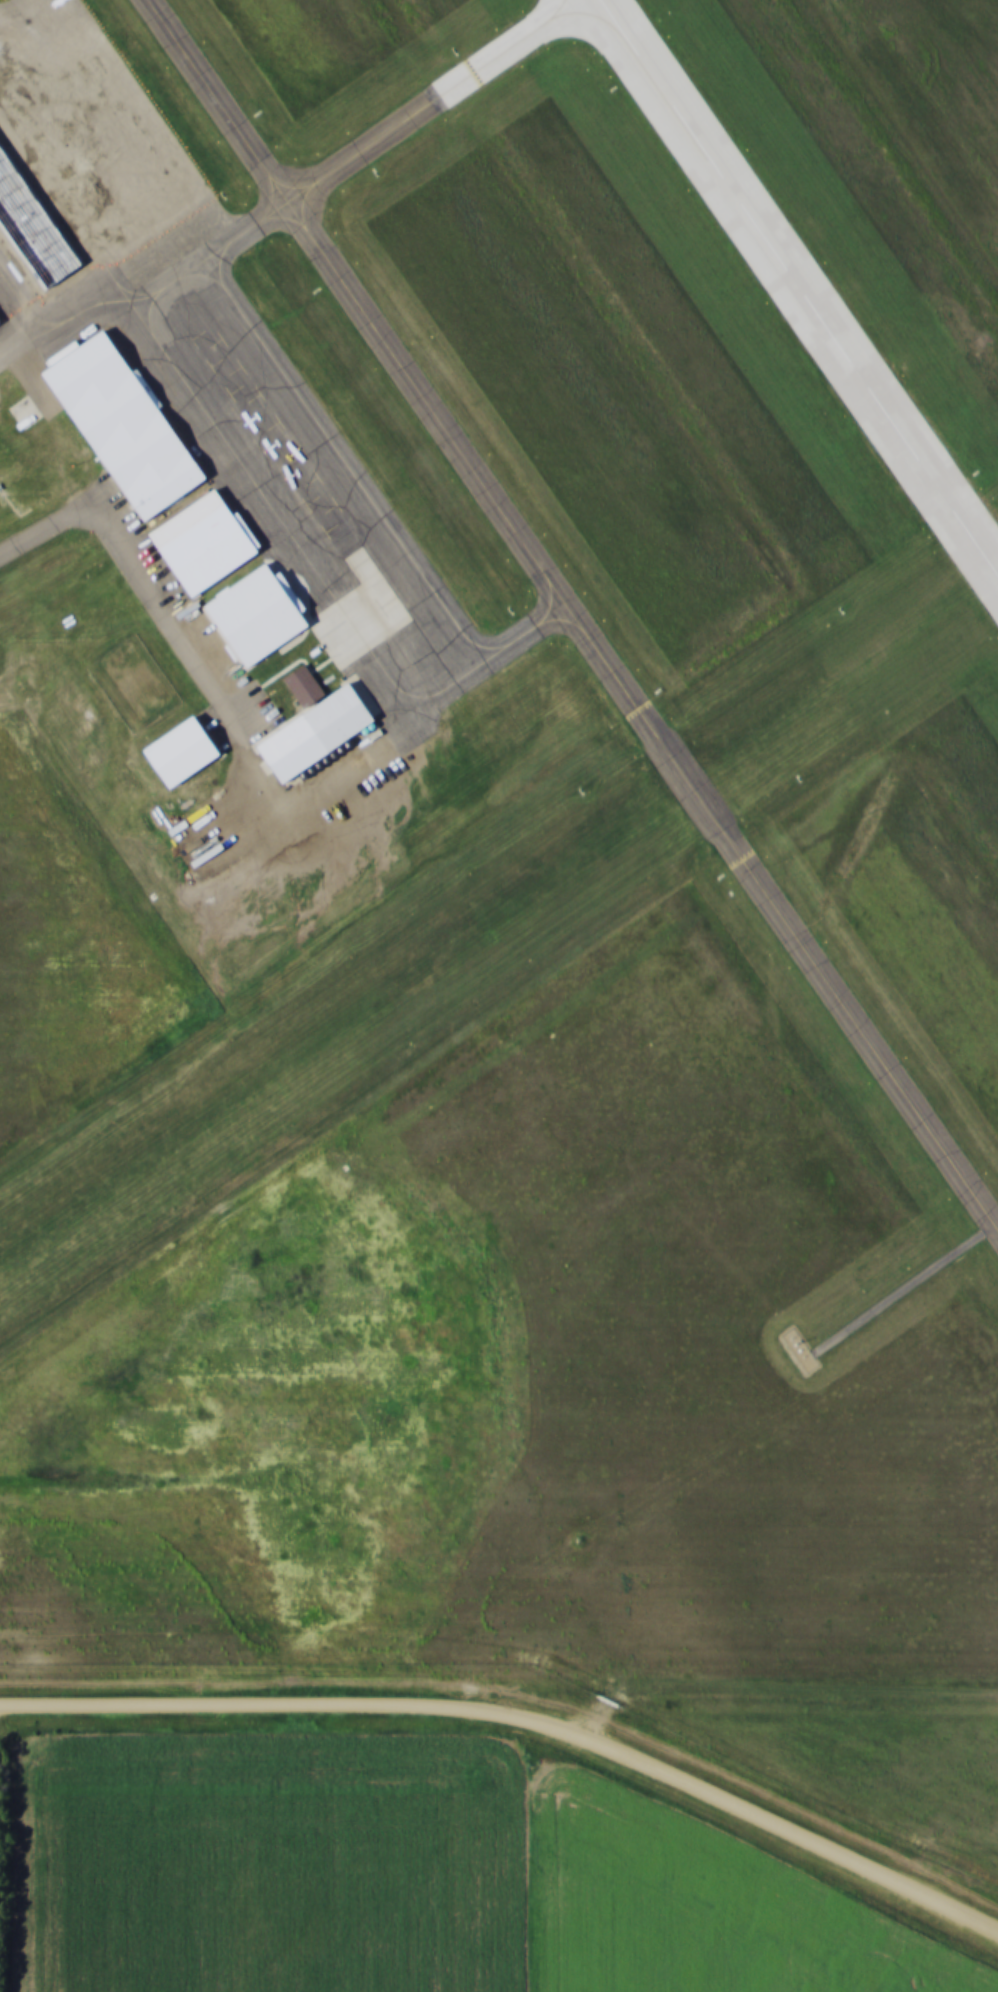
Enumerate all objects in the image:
airport taxiway: (413, 117)
building: (30, 239)
airport runway: (799, 287)
building: (0, 326)
airport apron: (224, 369)
building: (119, 399)
road: (86, 509)
building: (204, 542)
airport taxiway: (571, 614)
airport taxiway: (544, 622)
building: (304, 686)
building: (339, 719)
building: (185, 751)
airport runway: (499, 922)
building: (799, 1350)
road: (784, 1689)
road: (521, 1716)

